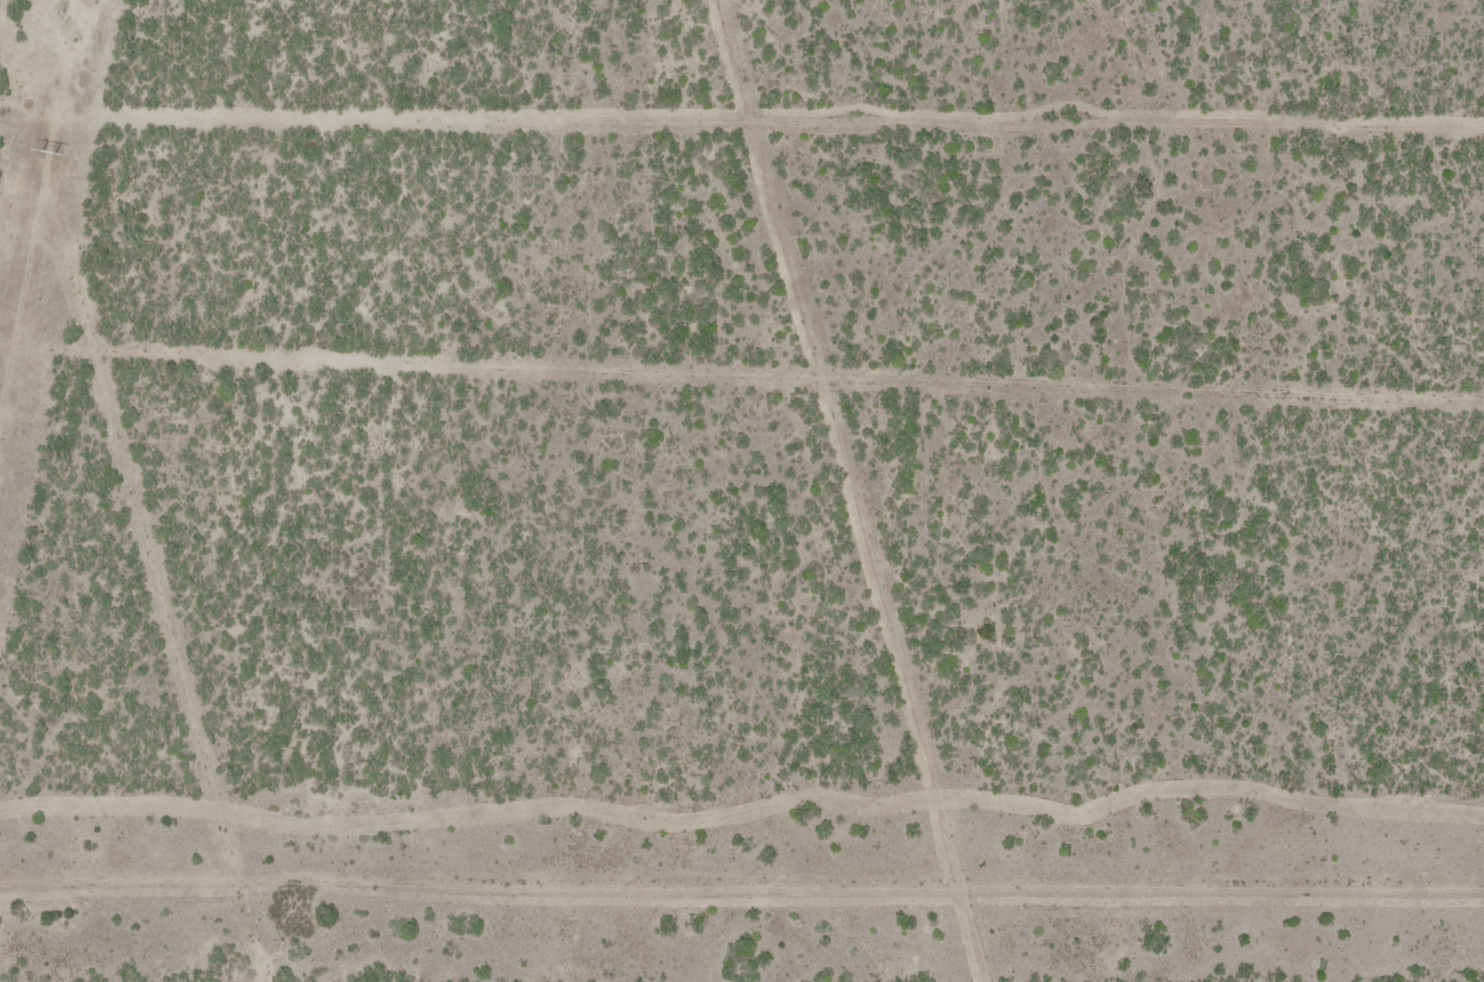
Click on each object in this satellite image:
power tower: (47, 154)

